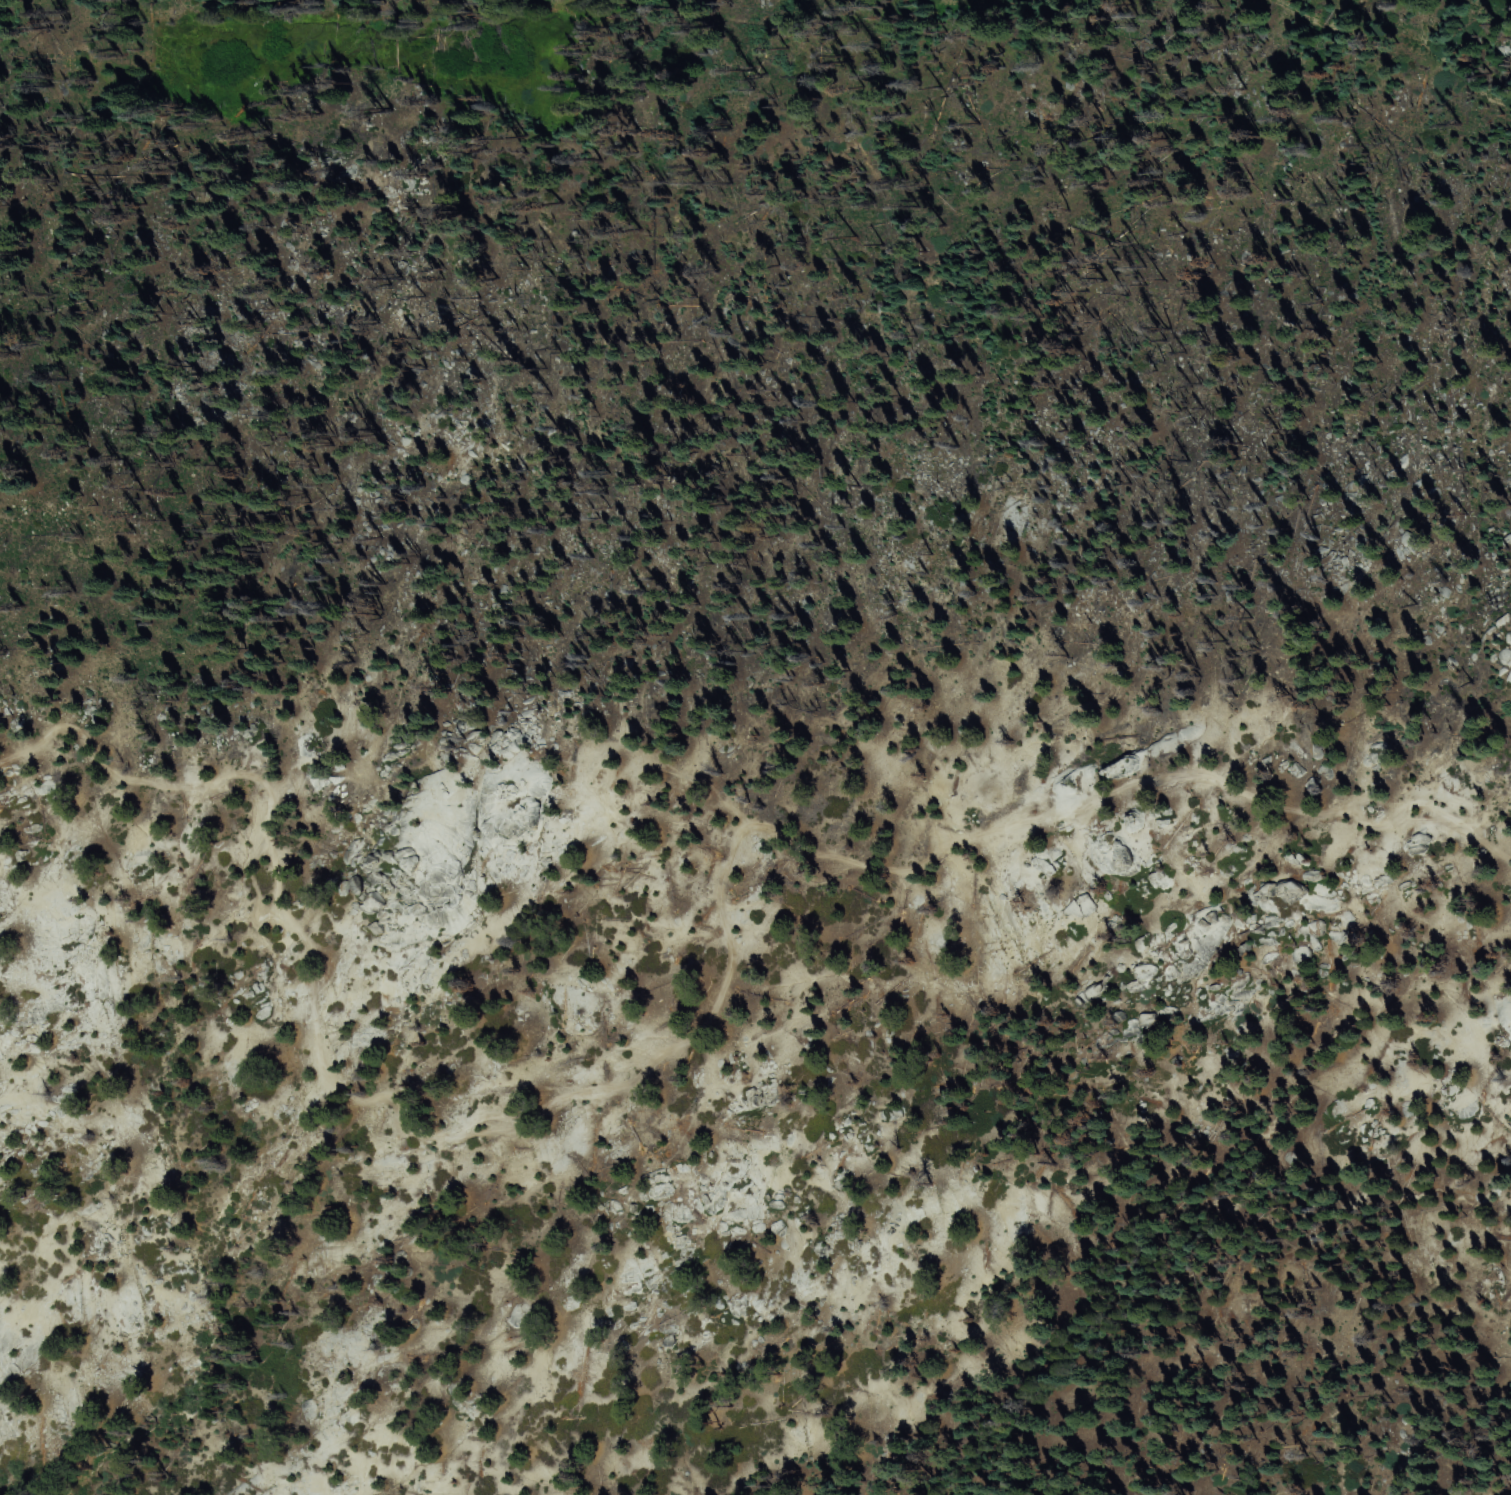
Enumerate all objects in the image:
road: (989, 12)
road: (1372, 46)
road: (682, 1040)

